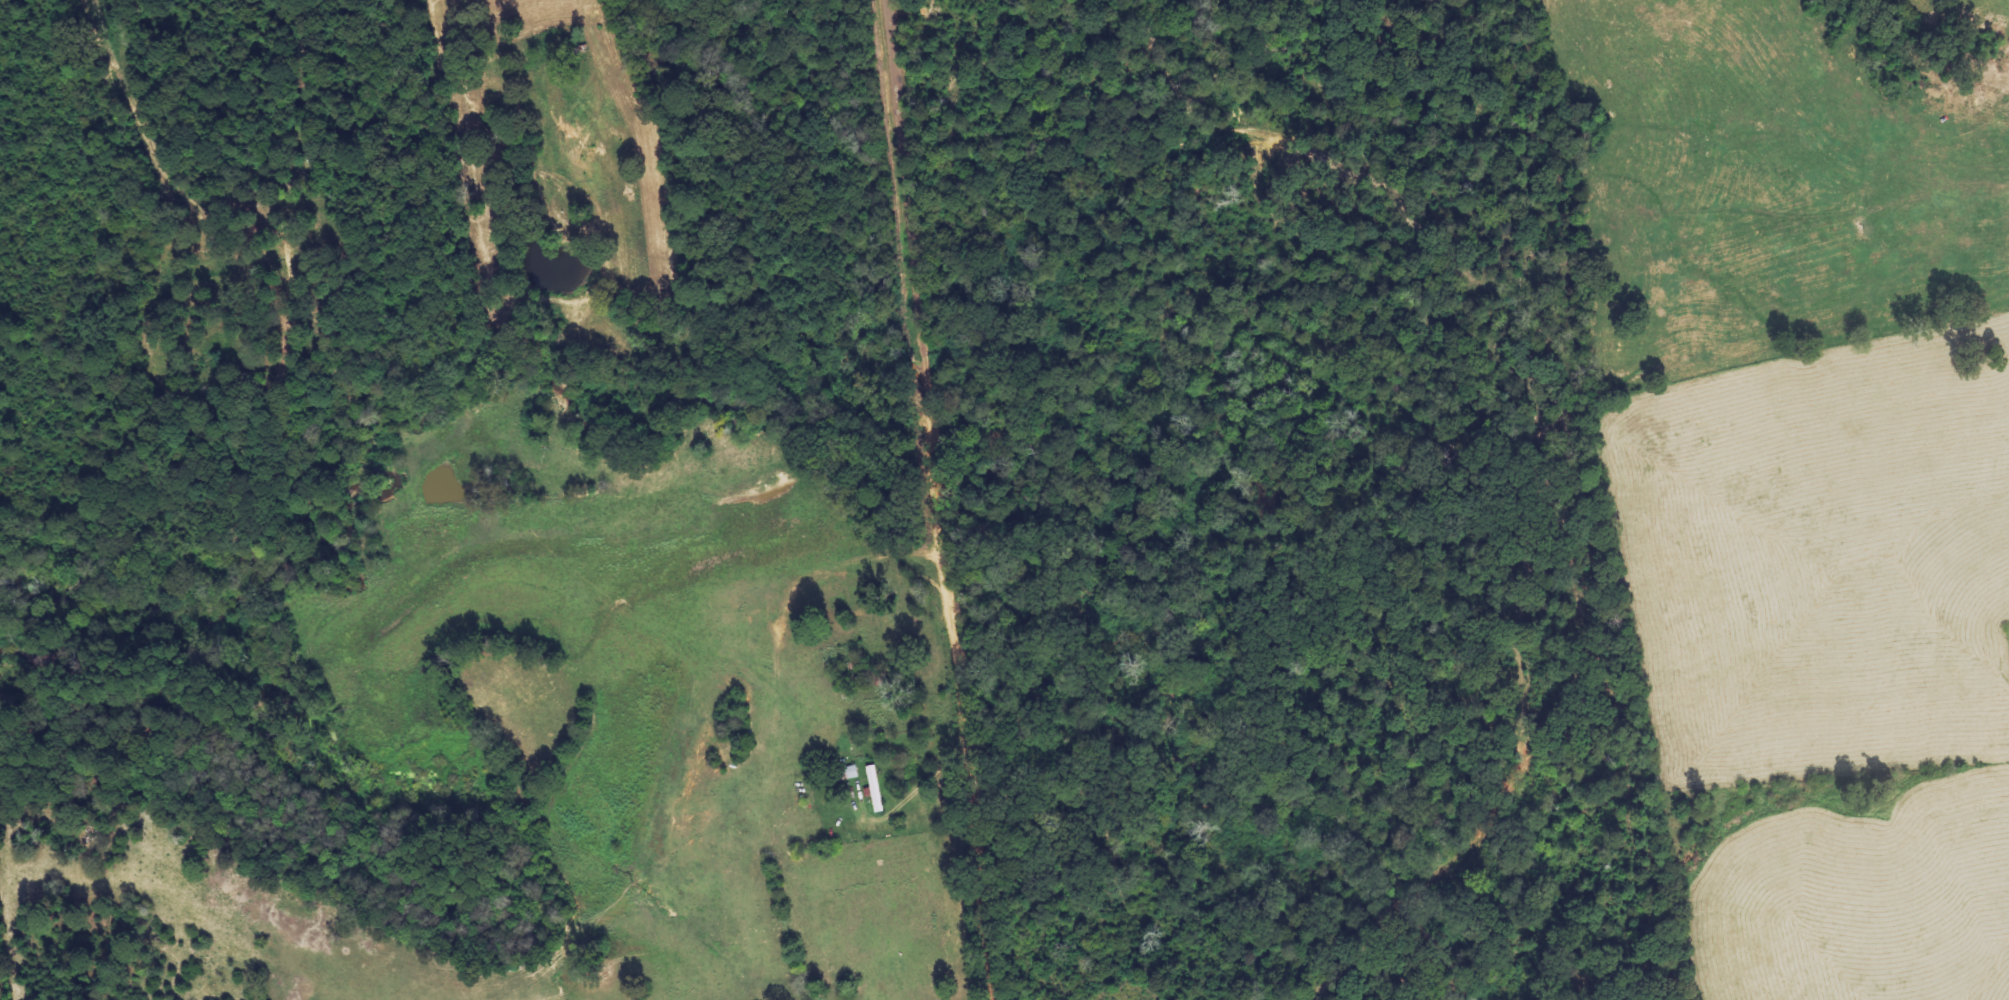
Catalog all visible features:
road: (941, 501)

